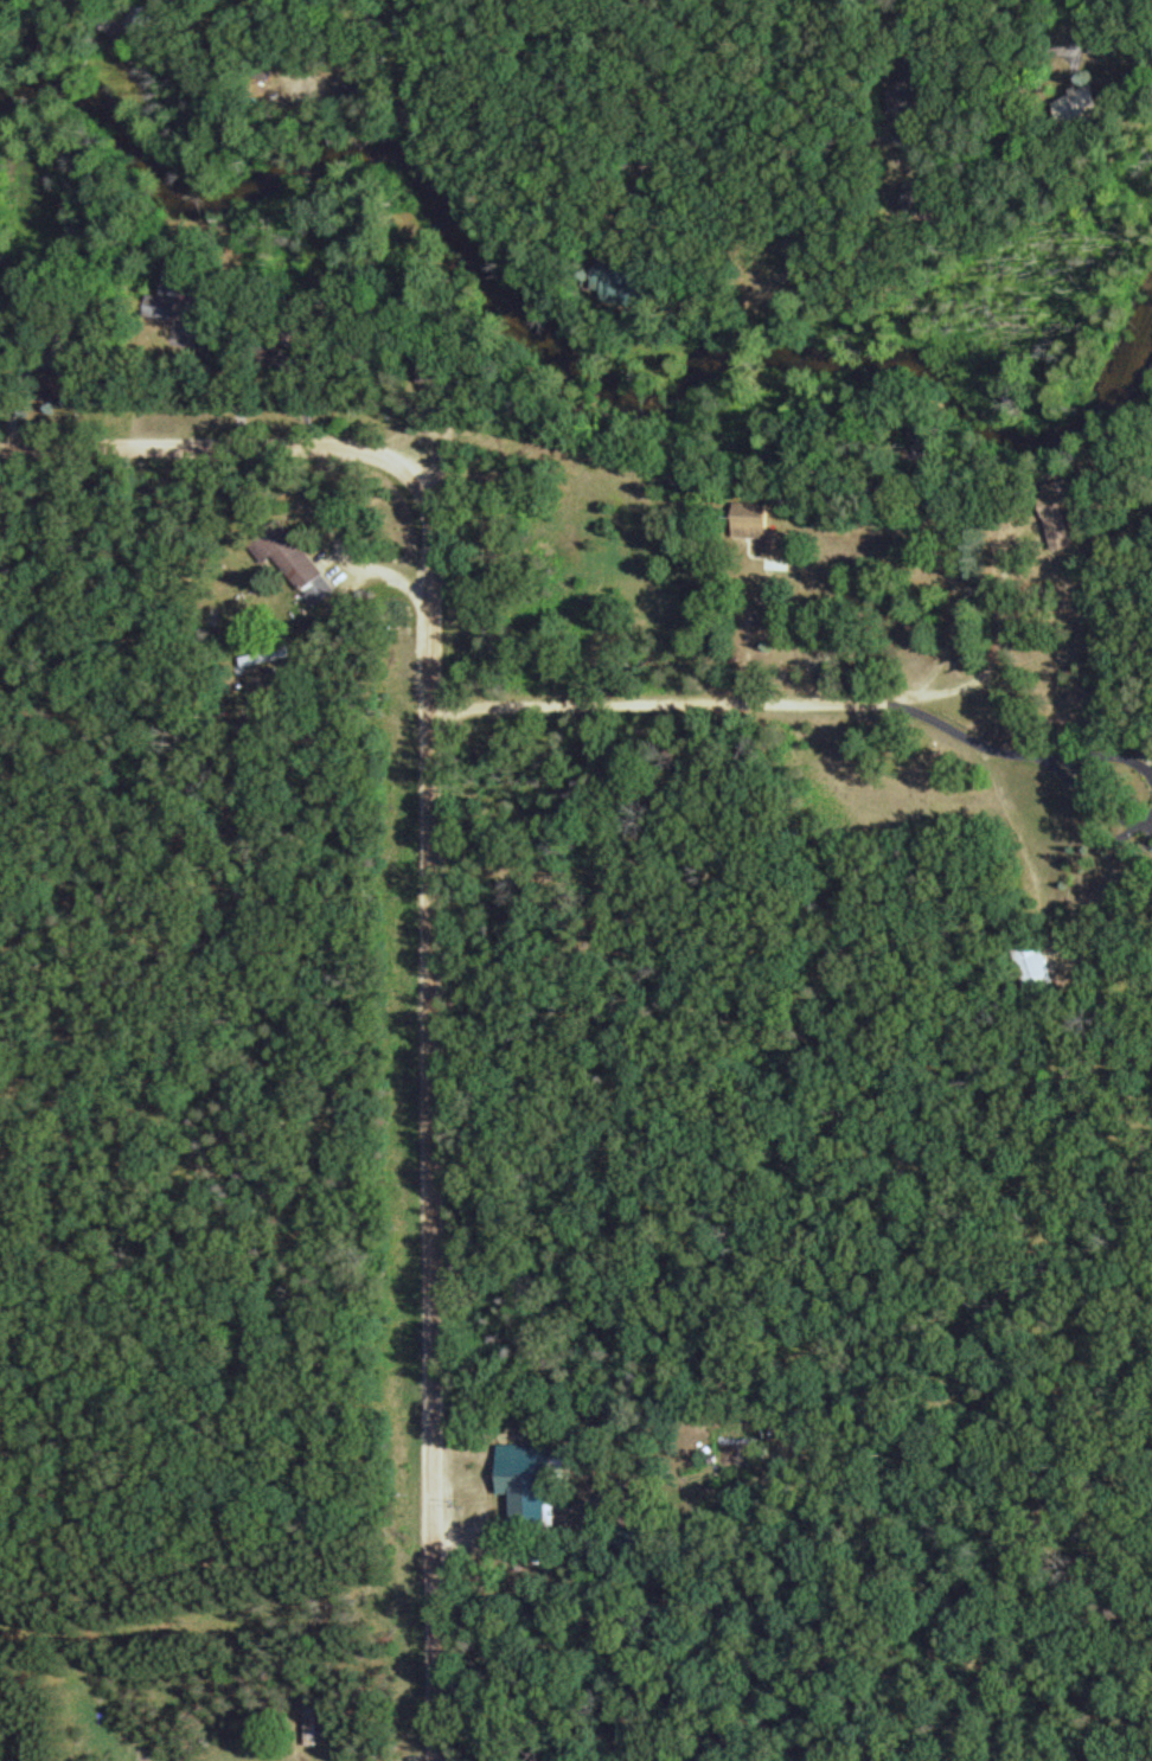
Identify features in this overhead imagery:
building: (1087, 96)
building: (190, 287)
river: (546, 338)
building: (927, 442)
road: (326, 449)
building: (1061, 525)
building: (767, 533)
building: (297, 559)
road: (678, 700)
building: (1038, 965)
road: (440, 1232)
building: (536, 1479)

